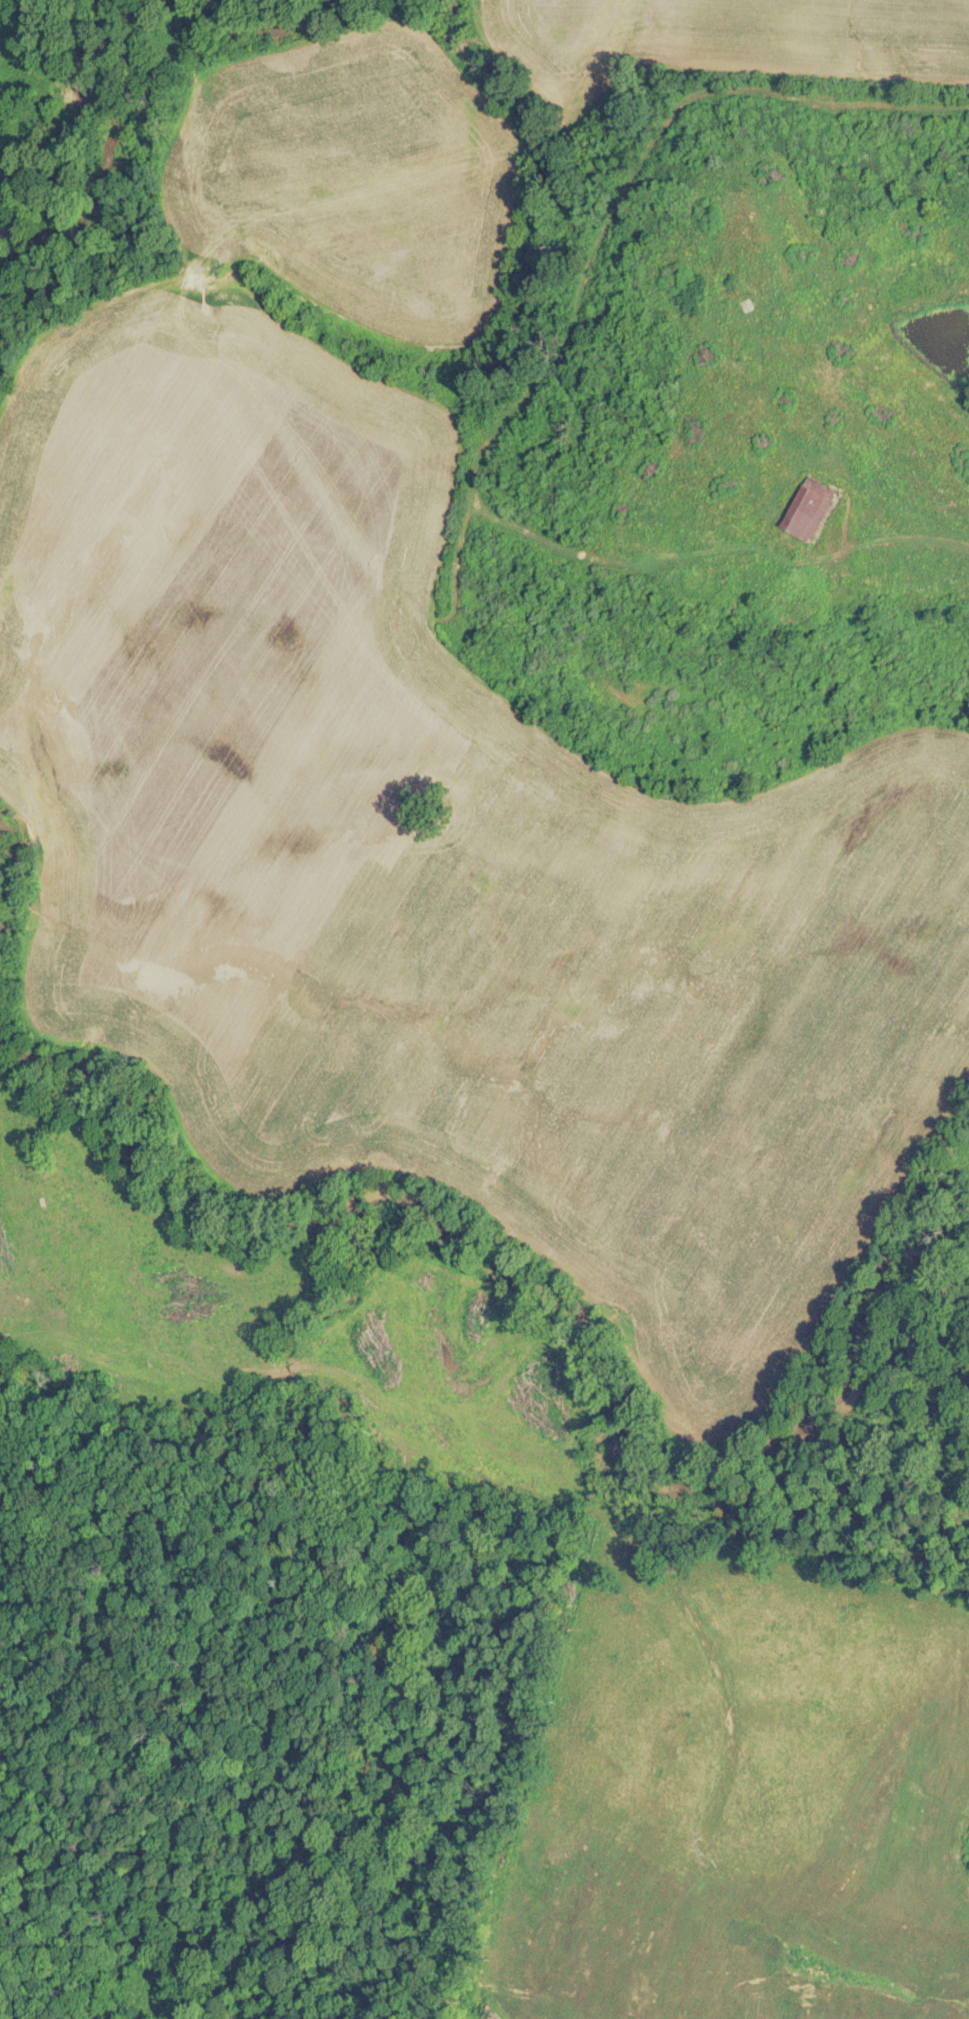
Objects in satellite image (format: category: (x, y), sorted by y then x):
building: (808, 512)
park: (943, 1270)

